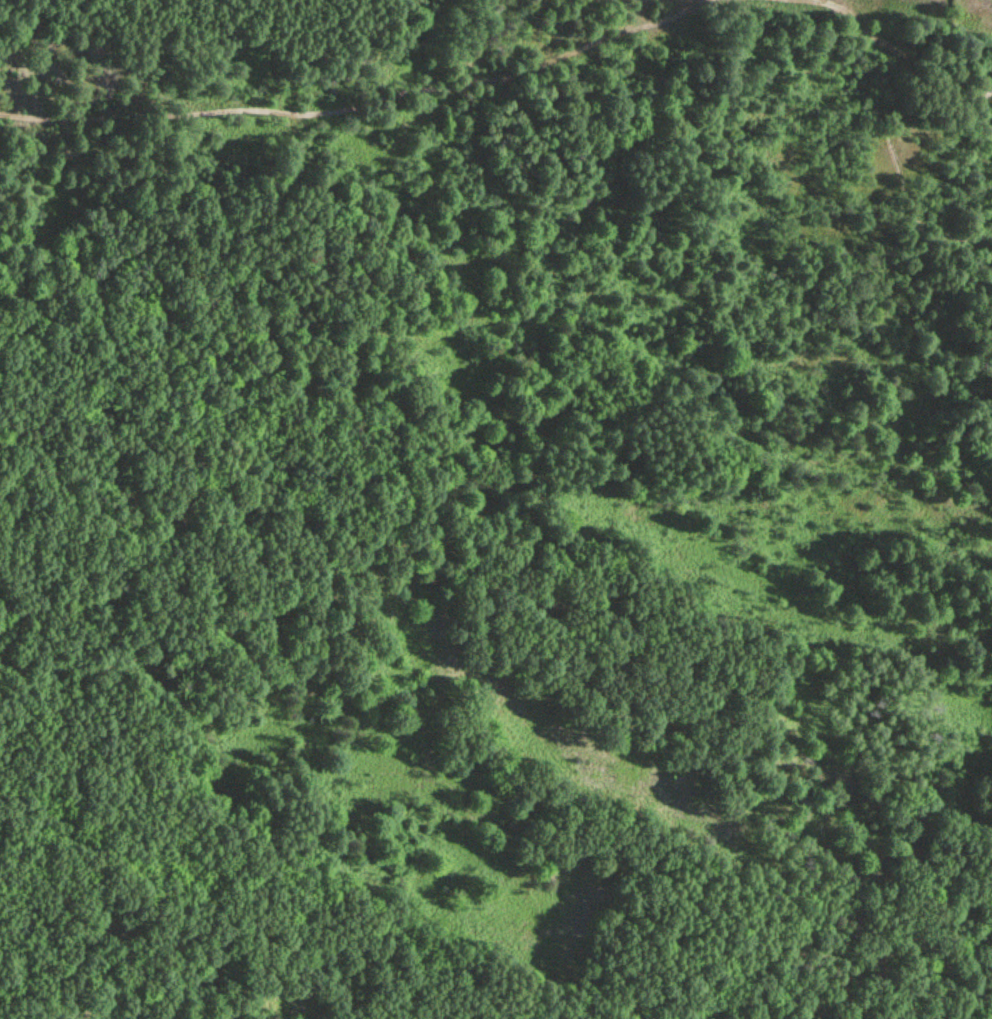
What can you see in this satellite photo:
road: (862, 26)
road: (320, 112)
road: (500, 411)

